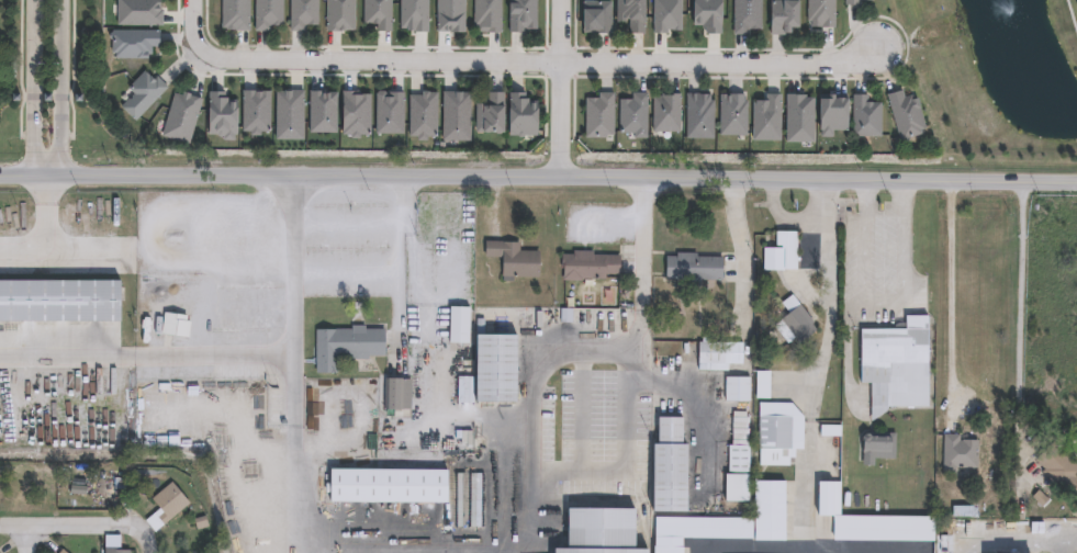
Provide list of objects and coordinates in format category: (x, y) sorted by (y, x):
building: (852, 2)
building: (138, 12)
building: (631, 12)
building: (302, 13)
building: (378, 13)
building: (520, 13)
building: (819, 13)
building: (234, 14)
building: (267, 14)
building: (485, 14)
building: (595, 14)
building: (740, 14)
building: (339, 15)
building: (416, 15)
building: (452, 15)
building: (667, 15)
building: (710, 15)
building: (779, 16)
road: (192, 26)
building: (132, 43)
road: (380, 46)
road: (907, 47)
road: (542, 61)
road: (357, 75)
park: (995, 79)
road: (31, 84)
road: (65, 84)
road: (561, 89)
building: (141, 93)
building: (255, 111)
building: (322, 111)
building: (665, 111)
building: (389, 112)
building: (863, 112)
building: (355, 113)
building: (490, 113)
building: (597, 113)
building: (632, 113)
building: (221, 114)
building: (289, 114)
building: (423, 114)
building: (456, 114)
building: (698, 114)
building: (831, 114)
building: (180, 116)
building: (733, 116)
building: (798, 116)
building: (904, 116)
building: (525, 117)
building: (766, 117)
road: (538, 178)
road: (46, 210)
road: (343, 227)
road: (227, 247)
building: (782, 248)
road: (104, 249)
road: (393, 249)
road: (23, 251)
building: (512, 256)
road: (640, 261)
building: (587, 262)
building: (692, 262)
road: (344, 276)
road: (947, 295)
building: (58, 296)
road: (884, 301)
road: (829, 302)
building: (792, 317)
building: (173, 320)
building: (455, 320)
road: (1022, 330)
building: (344, 342)
building: (717, 351)
road: (146, 354)
building: (896, 363)
road: (293, 364)
building: (491, 366)
building: (761, 381)
building: (734, 385)
building: (394, 390)
road: (696, 408)
road: (530, 411)
building: (322, 413)
building: (835, 430)
building: (778, 431)
building: (876, 443)
building: (958, 450)
road: (625, 453)
building: (666, 466)
building: (736, 467)
building: (1059, 469)
building: (67, 470)
building: (121, 481)
building: (384, 484)
road: (808, 486)
building: (826, 495)
building: (167, 500)
building: (722, 521)
road: (83, 523)
building: (880, 526)
building: (595, 530)
road: (15, 538)
road: (1020, 544)
building: (114, 550)
building: (58, 551)
road: (399, 551)

